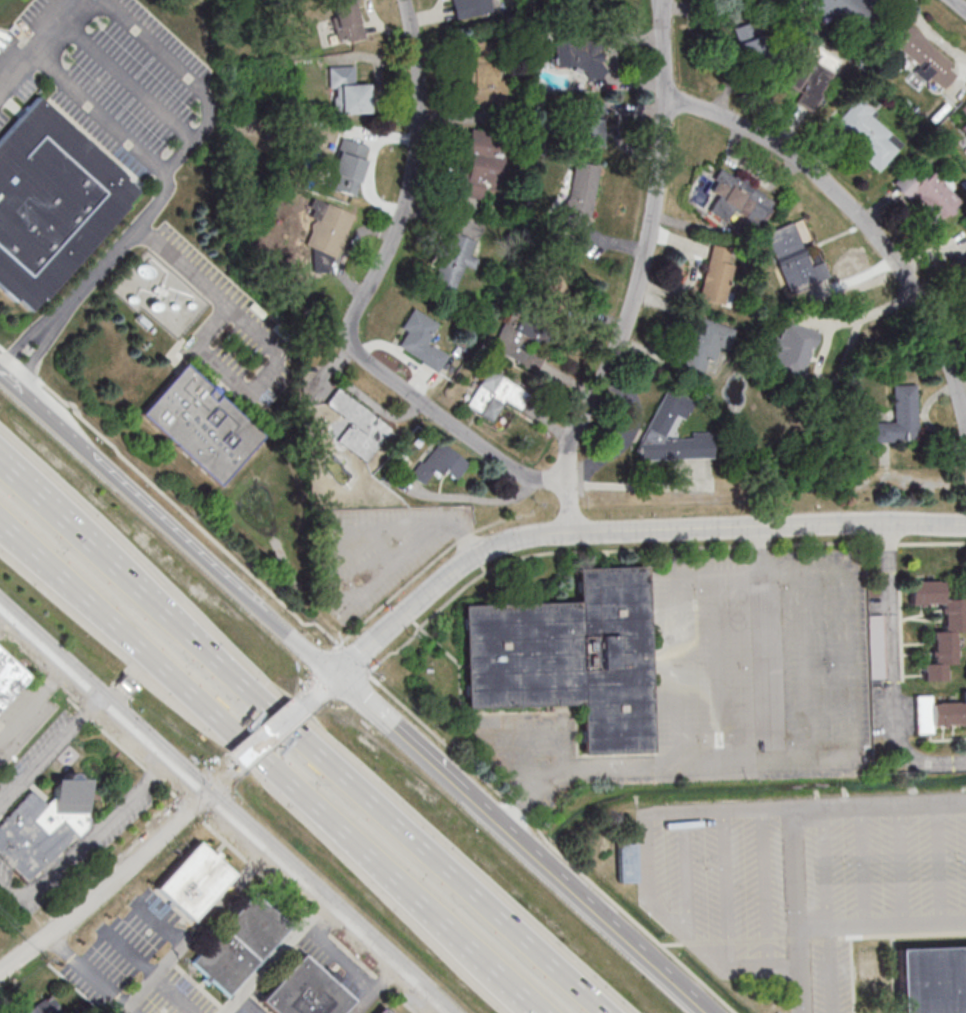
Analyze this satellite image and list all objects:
building: (571, 2)
road: (960, 4)
building: (471, 7)
building: (843, 11)
building: (346, 17)
building: (750, 41)
road: (37, 43)
building: (922, 55)
building: (580, 57)
building: (487, 72)
road: (189, 78)
building: (806, 78)
road: (126, 80)
building: (348, 91)
building: (963, 107)
building: (591, 124)
building: (963, 129)
building: (865, 133)
building: (348, 163)
building: (477, 168)
building: (927, 193)
building: (579, 199)
building: (735, 199)
building: (50, 201)
road: (151, 209)
road: (862, 221)
building: (329, 235)
building: (793, 259)
building: (453, 261)
building: (963, 265)
road: (189, 271)
road: (643, 273)
building: (716, 274)
building: (556, 277)
road: (363, 298)
building: (421, 339)
building: (703, 343)
road: (822, 347)
road: (2, 349)
building: (519, 349)
building: (792, 351)
road: (19, 364)
road: (243, 384)
building: (494, 395)
building: (900, 417)
building: (199, 424)
building: (357, 426)
building: (674, 433)
building: (440, 463)
road: (41, 479)
road: (909, 485)
road: (645, 490)
road: (36, 496)
road: (185, 516)
road: (768, 526)
road: (166, 527)
road: (645, 549)
road: (760, 549)
road: (424, 569)
road: (440, 582)
road: (150, 599)
building: (953, 618)
road: (892, 634)
road: (137, 642)
building: (876, 647)
road: (324, 656)
building: (568, 657)
road: (353, 659)
road: (850, 665)
building: (7, 677)
traffic signals: (336, 678)
building: (126, 684)
road: (318, 692)
road: (32, 699)
building: (937, 713)
road: (267, 734)
road: (48, 748)
road: (928, 767)
road: (220, 775)
traffic signals: (205, 789)
road: (300, 790)
road: (225, 808)
road: (381, 808)
road: (793, 824)
building: (42, 826)
road: (163, 830)
road: (86, 836)
road: (548, 843)
road: (520, 844)
building: (626, 862)
road: (937, 863)
road: (898, 864)
road: (862, 866)
road: (823, 868)
parking lot: (802, 880)
building: (191, 881)
road: (420, 902)
road: (61, 923)
road: (881, 925)
road: (199, 929)
building: (237, 944)
road: (274, 956)
road: (90, 973)
road: (570, 980)
building: (931, 980)
road: (375, 988)
building: (301, 991)
road: (176, 996)
road: (523, 1001)
road: (528, 1001)
road: (249, 1004)
building: (43, 1007)
building: (379, 1011)

